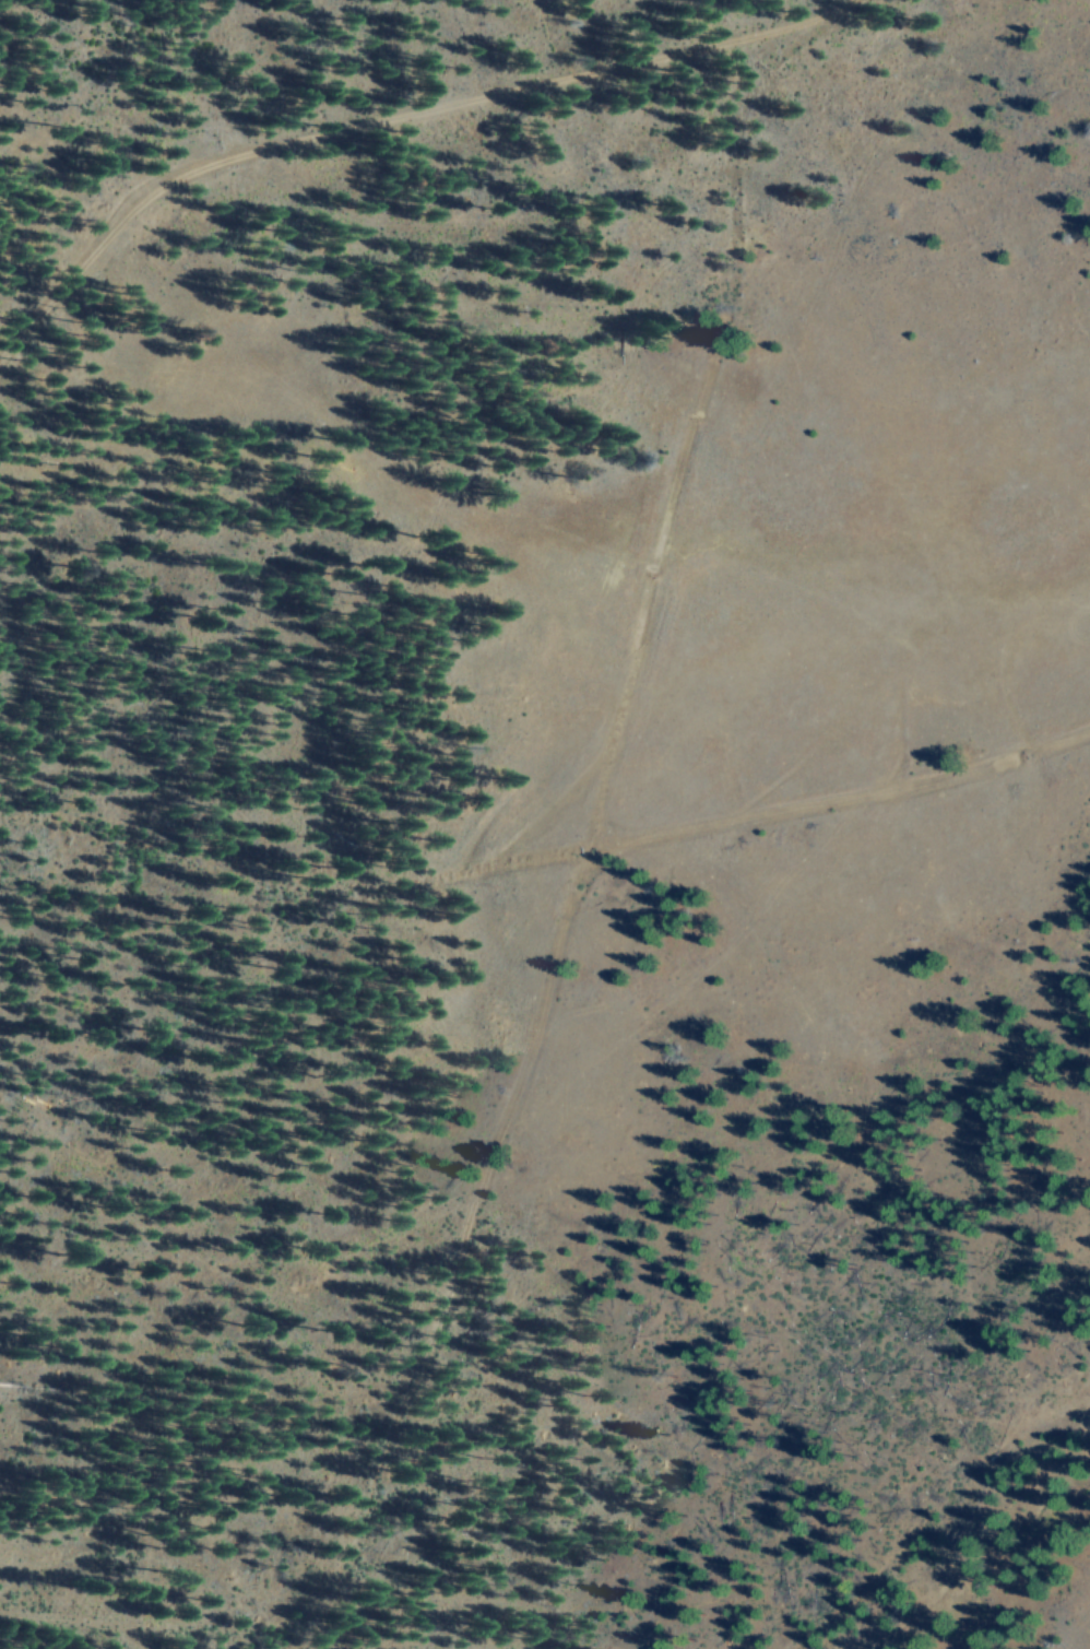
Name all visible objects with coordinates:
road: (545, 185)
road: (564, 824)

